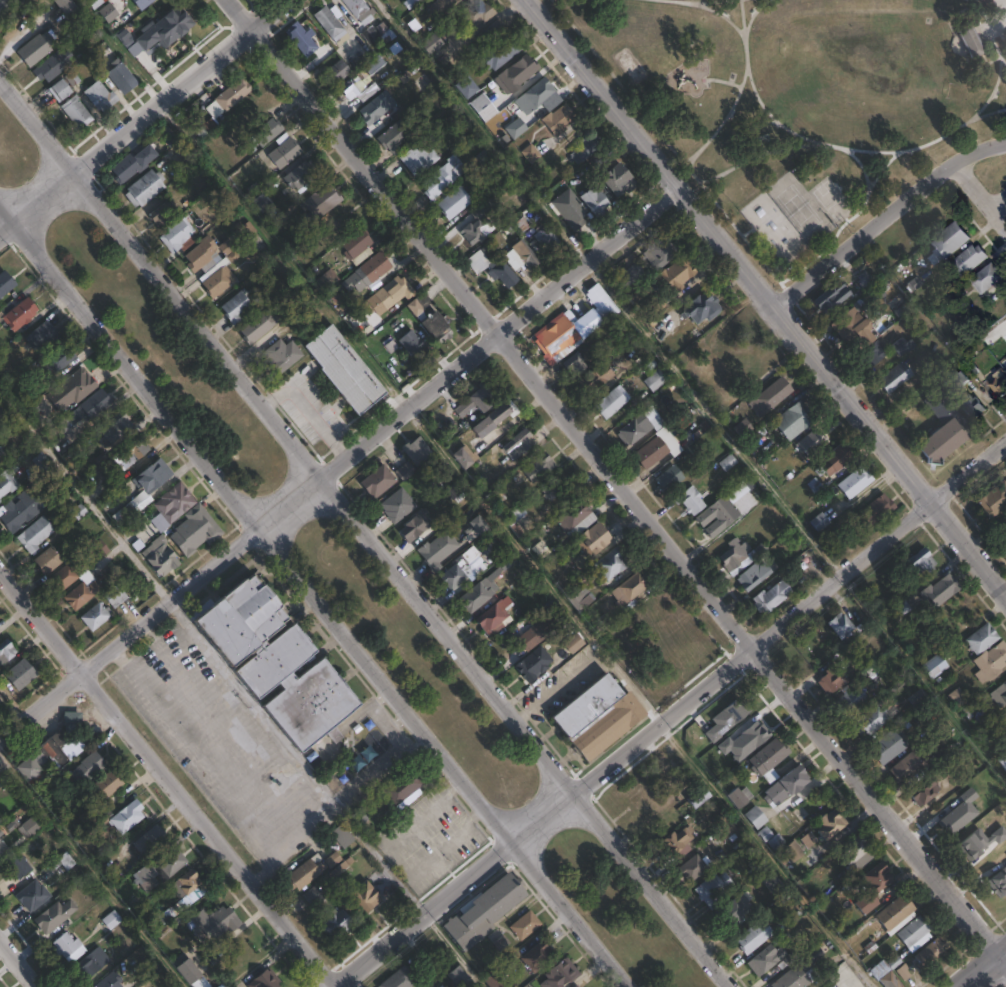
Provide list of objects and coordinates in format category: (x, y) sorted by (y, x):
building: (470, 0)
road: (1, 1)
building: (96, 3)
building: (142, 3)
building: (66, 6)
building: (441, 6)
building: (360, 9)
building: (108, 13)
building: (475, 14)
building: (171, 25)
building: (331, 26)
building: (494, 29)
building: (376, 33)
building: (126, 35)
building: (969, 40)
building: (433, 43)
building: (310, 44)
building: (35, 49)
building: (500, 53)
building: (373, 64)
building: (52, 65)
building: (338, 72)
building: (517, 74)
building: (123, 77)
building: (424, 83)
road: (181, 84)
building: (467, 86)
building: (59, 90)
building: (349, 91)
building: (536, 95)
building: (100, 96)
building: (229, 97)
park: (799, 103)
building: (483, 107)
building: (376, 108)
building: (74, 110)
building: (559, 119)
road: (38, 125)
building: (517, 127)
building: (267, 132)
building: (396, 135)
building: (585, 149)
building: (284, 151)
building: (531, 153)
building: (418, 159)
building: (133, 164)
building: (566, 167)
building: (301, 175)
building: (443, 176)
building: (617, 180)
building: (144, 188)
road: (981, 192)
road: (43, 195)
road: (998, 198)
park: (830, 200)
building: (596, 201)
building: (261, 202)
building: (320, 202)
building: (454, 202)
park: (797, 208)
building: (482, 209)
building: (571, 209)
building: (162, 213)
road: (5, 214)
road: (885, 218)
road: (5, 225)
park: (772, 229)
building: (475, 233)
building: (177, 235)
building: (547, 237)
building: (952, 241)
building: (230, 244)
building: (357, 246)
road: (728, 250)
building: (661, 251)
building: (526, 254)
building: (971, 260)
building: (210, 268)
building: (373, 268)
building: (493, 269)
building: (629, 275)
building: (675, 275)
building: (988, 278)
building: (326, 280)
building: (5, 284)
building: (873, 286)
building: (388, 296)
building: (832, 296)
building: (239, 305)
building: (703, 308)
building: (309, 311)
building: (18, 315)
building: (852, 324)
building: (258, 326)
building: (574, 326)
building: (437, 328)
building: (42, 336)
building: (415, 343)
building: (902, 346)
building: (876, 353)
building: (281, 356)
building: (58, 359)
building: (576, 367)
building: (345, 370)
building: (750, 371)
building: (898, 376)
building: (959, 377)
building: (598, 378)
building: (655, 380)
building: (1000, 381)
building: (75, 388)
building: (775, 395)
building: (479, 400)
building: (612, 402)
building: (94, 404)
building: (970, 404)
building: (494, 420)
building: (795, 421)
building: (745, 427)
building: (641, 428)
building: (946, 428)
building: (114, 429)
building: (663, 443)
building: (812, 443)
building: (519, 445)
building: (417, 451)
building: (135, 453)
building: (1, 454)
building: (466, 459)
building: (835, 460)
building: (0, 461)
building: (41, 462)
road: (340, 463)
building: (539, 469)
road: (968, 470)
building: (405, 471)
road: (617, 477)
building: (671, 481)
building: (378, 482)
building: (6, 483)
building: (856, 483)
building: (143, 490)
building: (550, 490)
building: (740, 490)
road: (84, 496)
building: (460, 496)
building: (496, 497)
building: (691, 500)
building: (174, 503)
building: (0, 504)
building: (998, 505)
building: (398, 506)
building: (20, 511)
building: (878, 511)
building: (575, 515)
building: (721, 516)
building: (820, 522)
building: (416, 526)
building: (1002, 526)
building: (477, 528)
building: (516, 528)
building: (195, 530)
building: (35, 535)
building: (594, 538)
road: (968, 547)
building: (98, 550)
building: (438, 550)
building: (160, 554)
building: (738, 556)
building: (924, 560)
building: (48, 561)
building: (611, 562)
building: (808, 562)
park: (337, 565)
building: (757, 574)
building: (456, 575)
road: (404, 577)
building: (87, 586)
building: (631, 587)
building: (940, 589)
building: (480, 591)
building: (115, 597)
building: (580, 597)
building: (772, 598)
road: (317, 604)
building: (495, 615)
building: (95, 617)
building: (238, 618)
building: (602, 623)
building: (843, 624)
building: (545, 628)
road: (150, 636)
building: (983, 637)
building: (574, 643)
building: (6, 650)
road: (147, 657)
building: (991, 662)
building: (534, 663)
building: (936, 665)
building: (21, 672)
building: (833, 681)
building: (296, 688)
building: (999, 694)
building: (959, 696)
building: (852, 700)
building: (3, 701)
building: (594, 715)
building: (720, 718)
building: (875, 718)
building: (72, 719)
building: (756, 730)
parking lot: (219, 741)
road: (631, 743)
building: (889, 746)
road: (287, 748)
building: (49, 754)
building: (770, 759)
building: (1003, 759)
building: (92, 763)
road: (203, 765)
building: (909, 769)
road: (168, 777)
building: (106, 784)
building: (788, 785)
building: (403, 789)
building: (925, 790)
building: (700, 796)
building: (741, 796)
building: (947, 813)
building: (124, 816)
road: (342, 817)
building: (757, 817)
building: (32, 825)
building: (725, 825)
building: (833, 825)
building: (343, 835)
building: (772, 837)
parking lot: (428, 838)
building: (967, 839)
building: (151, 841)
building: (674, 842)
building: (2, 846)
building: (794, 851)
building: (856, 853)
building: (992, 859)
building: (330, 860)
building: (17, 866)
building: (695, 866)
building: (158, 871)
building: (305, 872)
road: (90, 873)
building: (774, 882)
building: (875, 885)
building: (187, 888)
building: (713, 888)
building: (362, 893)
building: (32, 895)
building: (313, 895)
building: (734, 909)
building: (480, 911)
building: (898, 913)
building: (54, 915)
building: (158, 918)
building: (111, 919)
building: (213, 923)
building: (336, 924)
building: (526, 925)
building: (916, 933)
building: (755, 936)
building: (67, 946)
building: (932, 954)
building: (537, 956)
building: (766, 959)
road: (19, 962)
building: (90, 963)
building: (879, 967)
building: (150, 968)
road: (985, 970)
building: (191, 974)
building: (561, 974)
building: (460, 977)
building: (794, 978)
building: (265, 979)
building: (400, 979)
building: (891, 979)
building: (109, 980)
building: (495, 980)
building: (845, 985)
building: (577, 986)
building: (833, 986)

